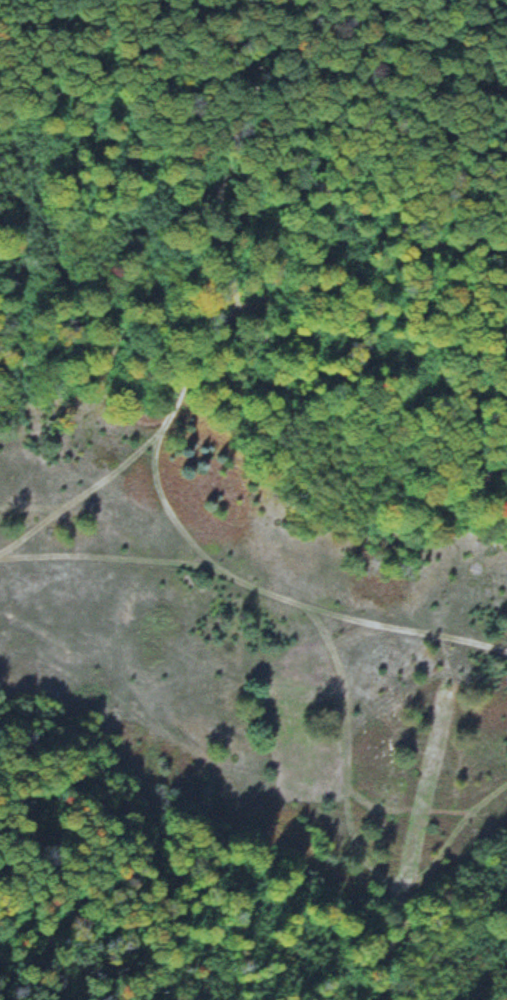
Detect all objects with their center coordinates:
road: (252, 588)

